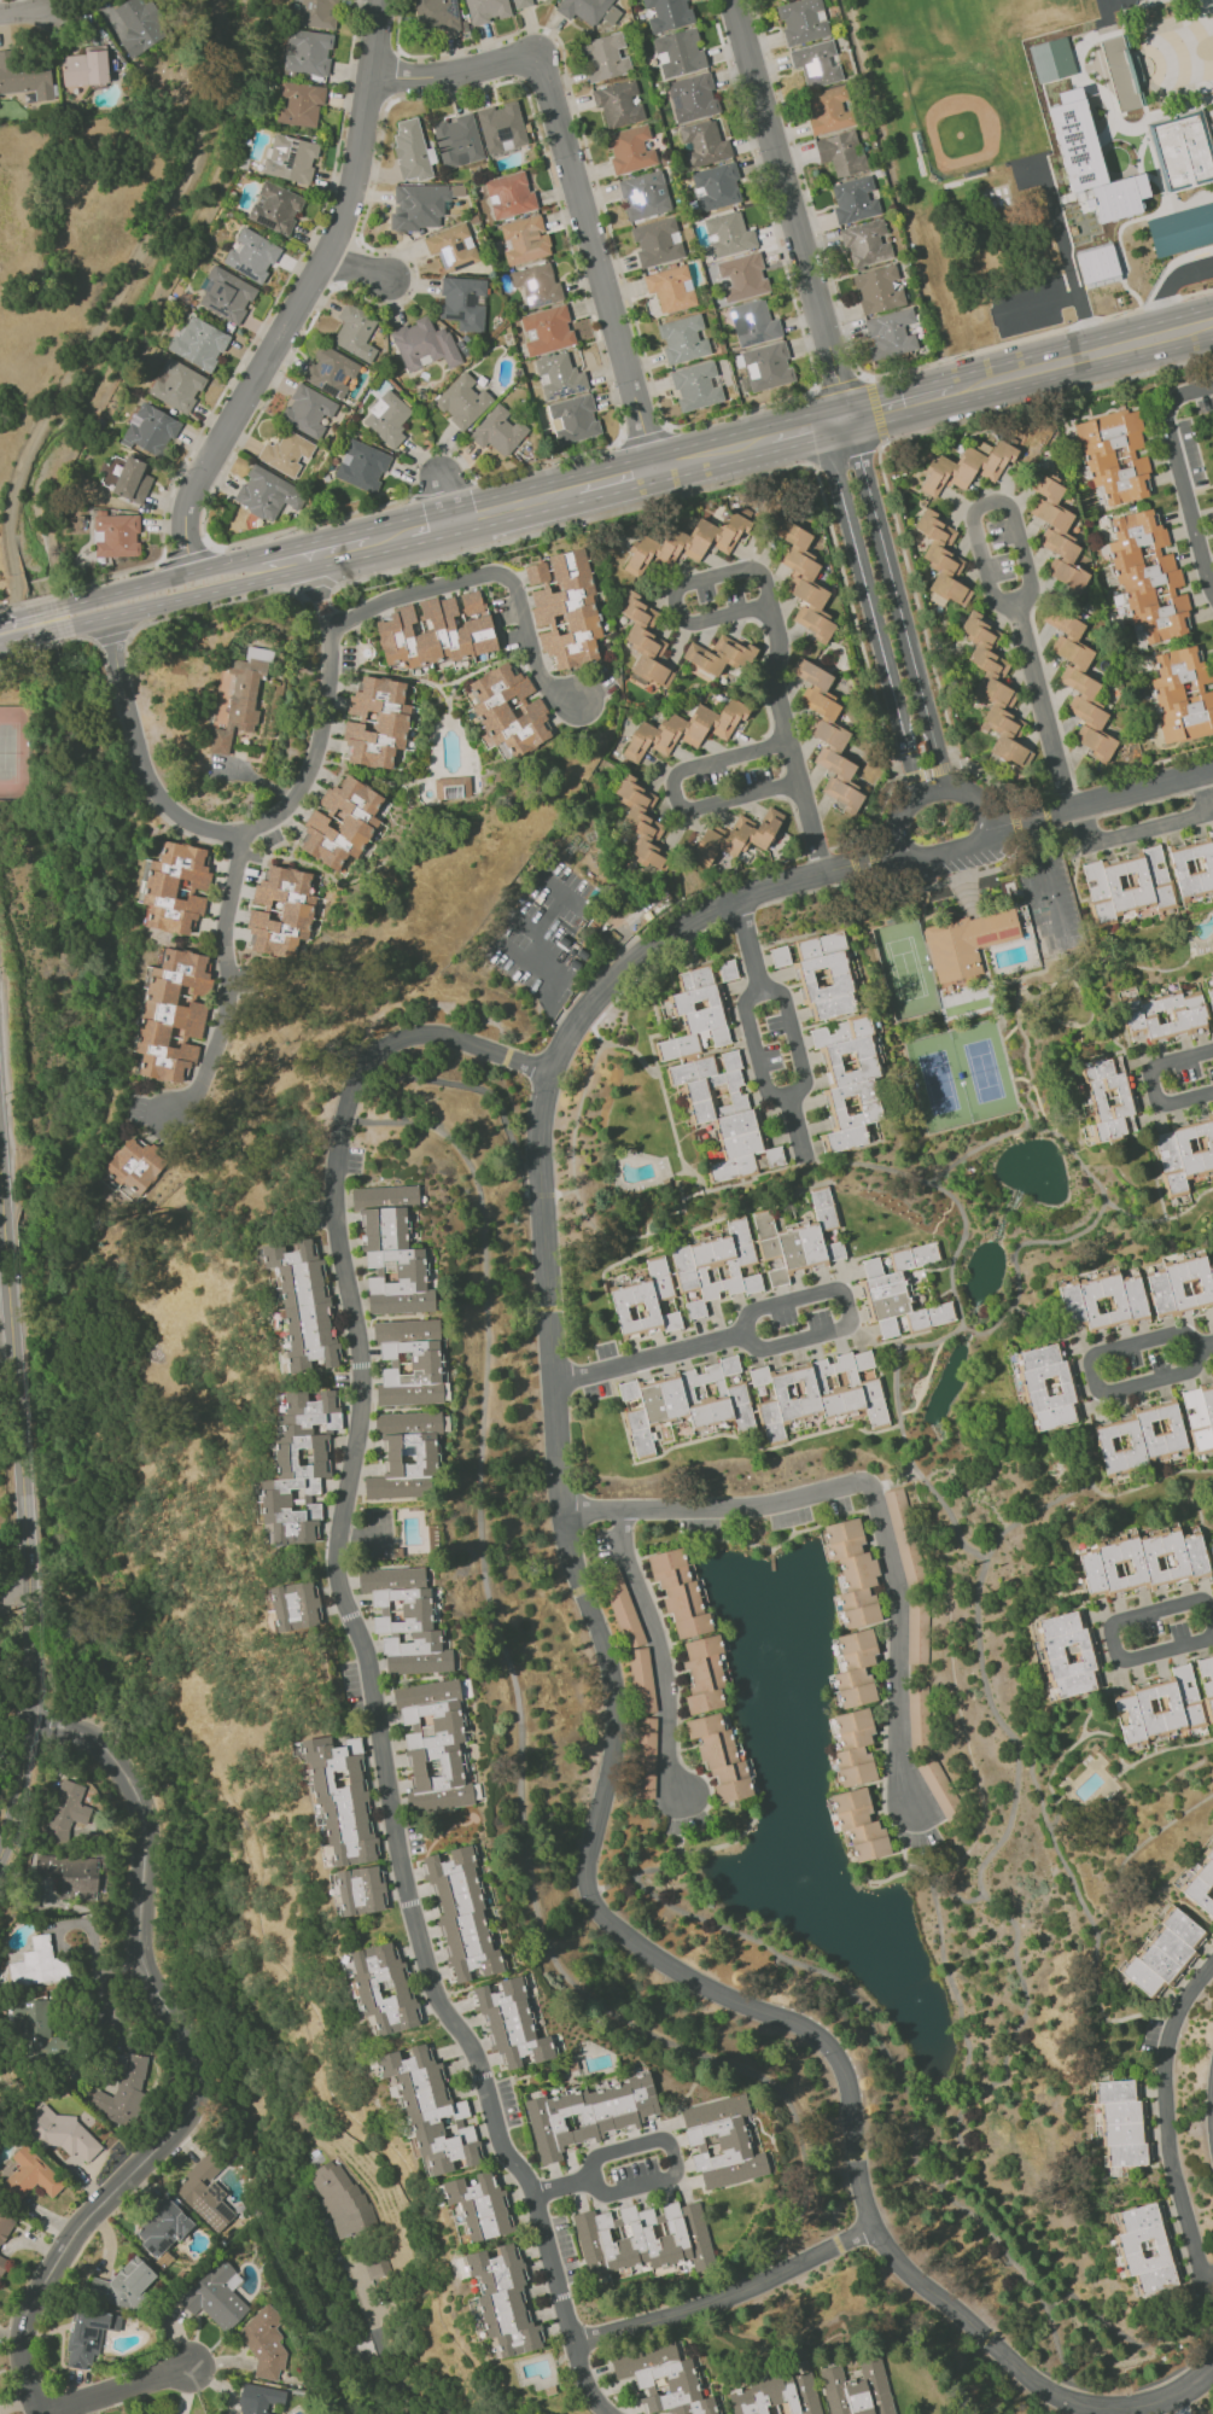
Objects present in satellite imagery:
park: (1108, 1)
building: (521, 4)
building: (486, 10)
building: (589, 10)
road: (27, 11)
building: (317, 13)
building: (666, 13)
building: (436, 14)
building: (803, 21)
building: (139, 25)
road: (374, 36)
building: (307, 52)
building: (678, 53)
building: (605, 57)
building: (1051, 59)
building: (816, 63)
building: (84, 66)
building: (1122, 71)
building: (24, 77)
building: (692, 98)
building: (618, 103)
building: (299, 104)
building: (828, 110)
park: (974, 113)
building: (501, 127)
building: (457, 140)
building: (1075, 140)
building: (702, 144)
building: (631, 148)
building: (1183, 148)
building: (410, 150)
building: (841, 152)
building: (290, 158)
road: (571, 179)
building: (716, 186)
building: (509, 194)
building: (645, 196)
building: (1120, 197)
building: (853, 199)
building: (416, 205)
building: (275, 208)
road: (789, 209)
road: (1056, 229)
building: (1182, 229)
building: (728, 234)
building: (525, 240)
building: (657, 241)
building: (865, 243)
building: (451, 246)
building: (251, 255)
building: (1098, 263)
road: (1167, 266)
road: (360, 269)
building: (742, 276)
building: (536, 284)
road: (1170, 287)
building: (671, 288)
building: (877, 288)
road: (1071, 293)
building: (226, 296)
building: (463, 302)
building: (753, 322)
road: (284, 327)
building: (546, 330)
building: (355, 332)
building: (891, 334)
road: (1039, 334)
building: (683, 339)
building: (198, 343)
building: (424, 344)
road: (1085, 357)
building: (768, 366)
building: (330, 371)
building: (559, 375)
building: (176, 385)
road: (867, 385)
building: (696, 386)
road: (1043, 398)
building: (462, 401)
road: (904, 406)
road: (740, 409)
building: (307, 410)
building: (387, 419)
building: (575, 419)
road: (835, 424)
building: (150, 430)
building: (498, 431)
road: (793, 433)
road: (645, 437)
building: (286, 453)
road: (708, 453)
road: (844, 454)
building: (1114, 455)
building: (361, 466)
building: (967, 467)
road: (412, 468)
road: (613, 474)
building: (126, 478)
road: (1182, 478)
road: (444, 485)
building: (267, 494)
road: (443, 497)
park: (1, 498)
road: (514, 505)
road: (10, 520)
road: (571, 523)
road: (430, 526)
building: (116, 535)
road: (389, 536)
building: (1057, 536)
building: (688, 542)
road: (338, 548)
road: (187, 558)
building: (941, 560)
road: (281, 561)
park: (1, 566)
road: (491, 573)
building: (1148, 577)
building: (804, 581)
road: (154, 582)
road: (311, 582)
road: (81, 583)
road: (1028, 589)
road: (162, 603)
road: (206, 606)
building: (564, 607)
road: (46, 620)
road: (772, 622)
road: (14, 629)
building: (436, 630)
road: (74, 639)
road: (111, 639)
road: (905, 639)
building: (643, 640)
road: (46, 645)
road: (877, 645)
building: (719, 655)
road: (19, 657)
building: (1079, 683)
building: (995, 692)
building: (1182, 694)
building: (238, 696)
building: (507, 710)
building: (377, 722)
building: (683, 729)
building: (828, 736)
building: (920, 746)
park: (13, 752)
building: (453, 787)
road: (1207, 792)
road: (676, 793)
road: (932, 794)
building: (641, 821)
building: (342, 822)
road: (258, 827)
road: (1131, 835)
building: (735, 836)
building: (1192, 864)
road: (1048, 877)
building: (1126, 884)
building: (175, 887)
road: (550, 887)
building: (280, 912)
road: (547, 914)
road: (524, 921)
building: (1042, 932)
building: (967, 944)
road: (748, 945)
building: (780, 956)
park: (906, 969)
building: (727, 970)
building: (823, 975)
road: (549, 978)
building: (1209, 990)
road: (227, 992)
building: (173, 1013)
building: (695, 1015)
building: (1164, 1016)
road: (795, 1034)
road: (756, 1050)
park: (984, 1071)
building: (848, 1081)
road: (1153, 1081)
park: (939, 1083)
building: (1107, 1100)
building: (727, 1114)
road: (798, 1124)
building: (1184, 1151)
building: (134, 1165)
building: (799, 1240)
building: (391, 1250)
building: (715, 1265)
building: (1180, 1287)
building: (900, 1291)
building: (1102, 1299)
building: (645, 1301)
building: (302, 1305)
road: (5, 1310)
road: (27, 1342)
road: (775, 1342)
road: (1205, 1347)
road: (552, 1352)
building: (408, 1363)
road: (1094, 1376)
building: (1049, 1387)
building: (818, 1392)
building: (684, 1401)
building: (1200, 1416)
building: (1138, 1438)
building: (406, 1456)
building: (297, 1468)
road: (869, 1493)
road: (25, 1530)
building: (904, 1537)
building: (1212, 1549)
building: (1143, 1559)
building: (852, 1570)
road: (13, 1590)
building: (680, 1593)
building: (294, 1605)
building: (404, 1620)
building: (917, 1632)
road: (1110, 1637)
road: (657, 1650)
building: (1067, 1654)
road: (366, 1657)
building: (856, 1668)
building: (704, 1673)
building: (642, 1680)
building: (1207, 1683)
building: (1160, 1704)
road: (41, 1709)
building: (919, 1718)
building: (433, 1745)
building: (855, 1748)
building: (719, 1756)
building: (646, 1757)
building: (939, 1788)
building: (338, 1795)
building: (65, 1810)
building: (859, 1825)
building: (74, 1876)
building: (1201, 1883)
building: (357, 1890)
building: (462, 1916)
building: (1164, 1954)
building: (39, 1964)
building: (381, 1989)
building: (512, 2024)
road: (118, 2028)
building: (39, 2031)
road: (191, 2063)
building: (122, 2092)
building: (431, 2111)
building: (588, 2113)
road: (1167, 2118)
building: (1121, 2122)
building: (59, 2132)
building: (722, 2141)
building: (31, 2174)
road: (666, 2177)
building: (205, 2193)
building: (340, 2199)
building: (480, 2205)
building: (162, 2228)
building: (642, 2239)
building: (1145, 2247)
building: (1, 2267)
building: (368, 2274)
building: (127, 2282)
road: (728, 2295)
building: (216, 2296)
building: (502, 2301)
building: (88, 2336)
road: (1022, 2372)
building: (663, 2380)
road: (116, 2389)
building: (857, 2389)
building: (777, 2396)
building: (259, 2400)
road: (400, 2413)

